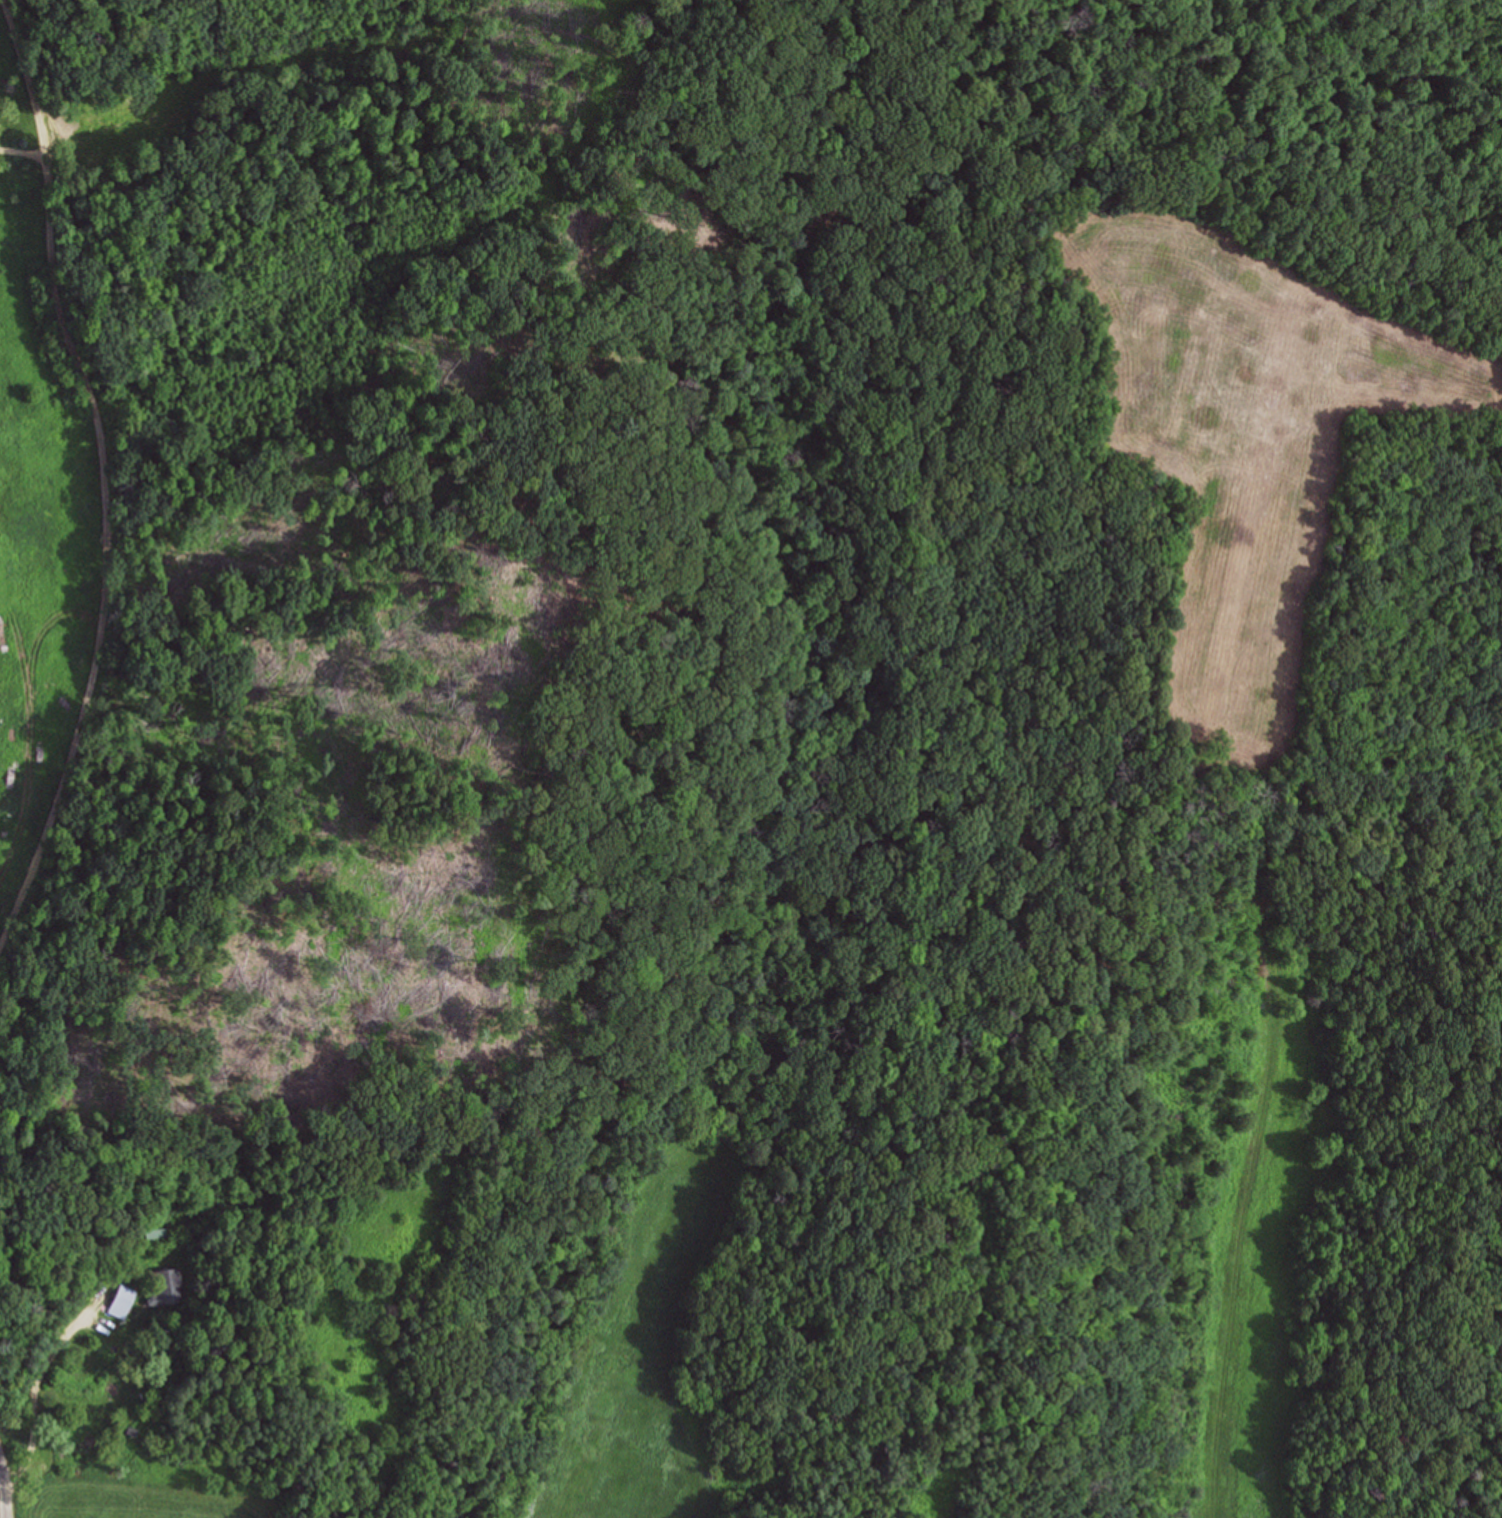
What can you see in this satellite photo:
road: (94, 459)
building: (156, 1234)
building: (121, 1306)
crop: (647, 1371)
crop: (132, 1491)
road: (2, 1497)
crop: (1, 1504)

